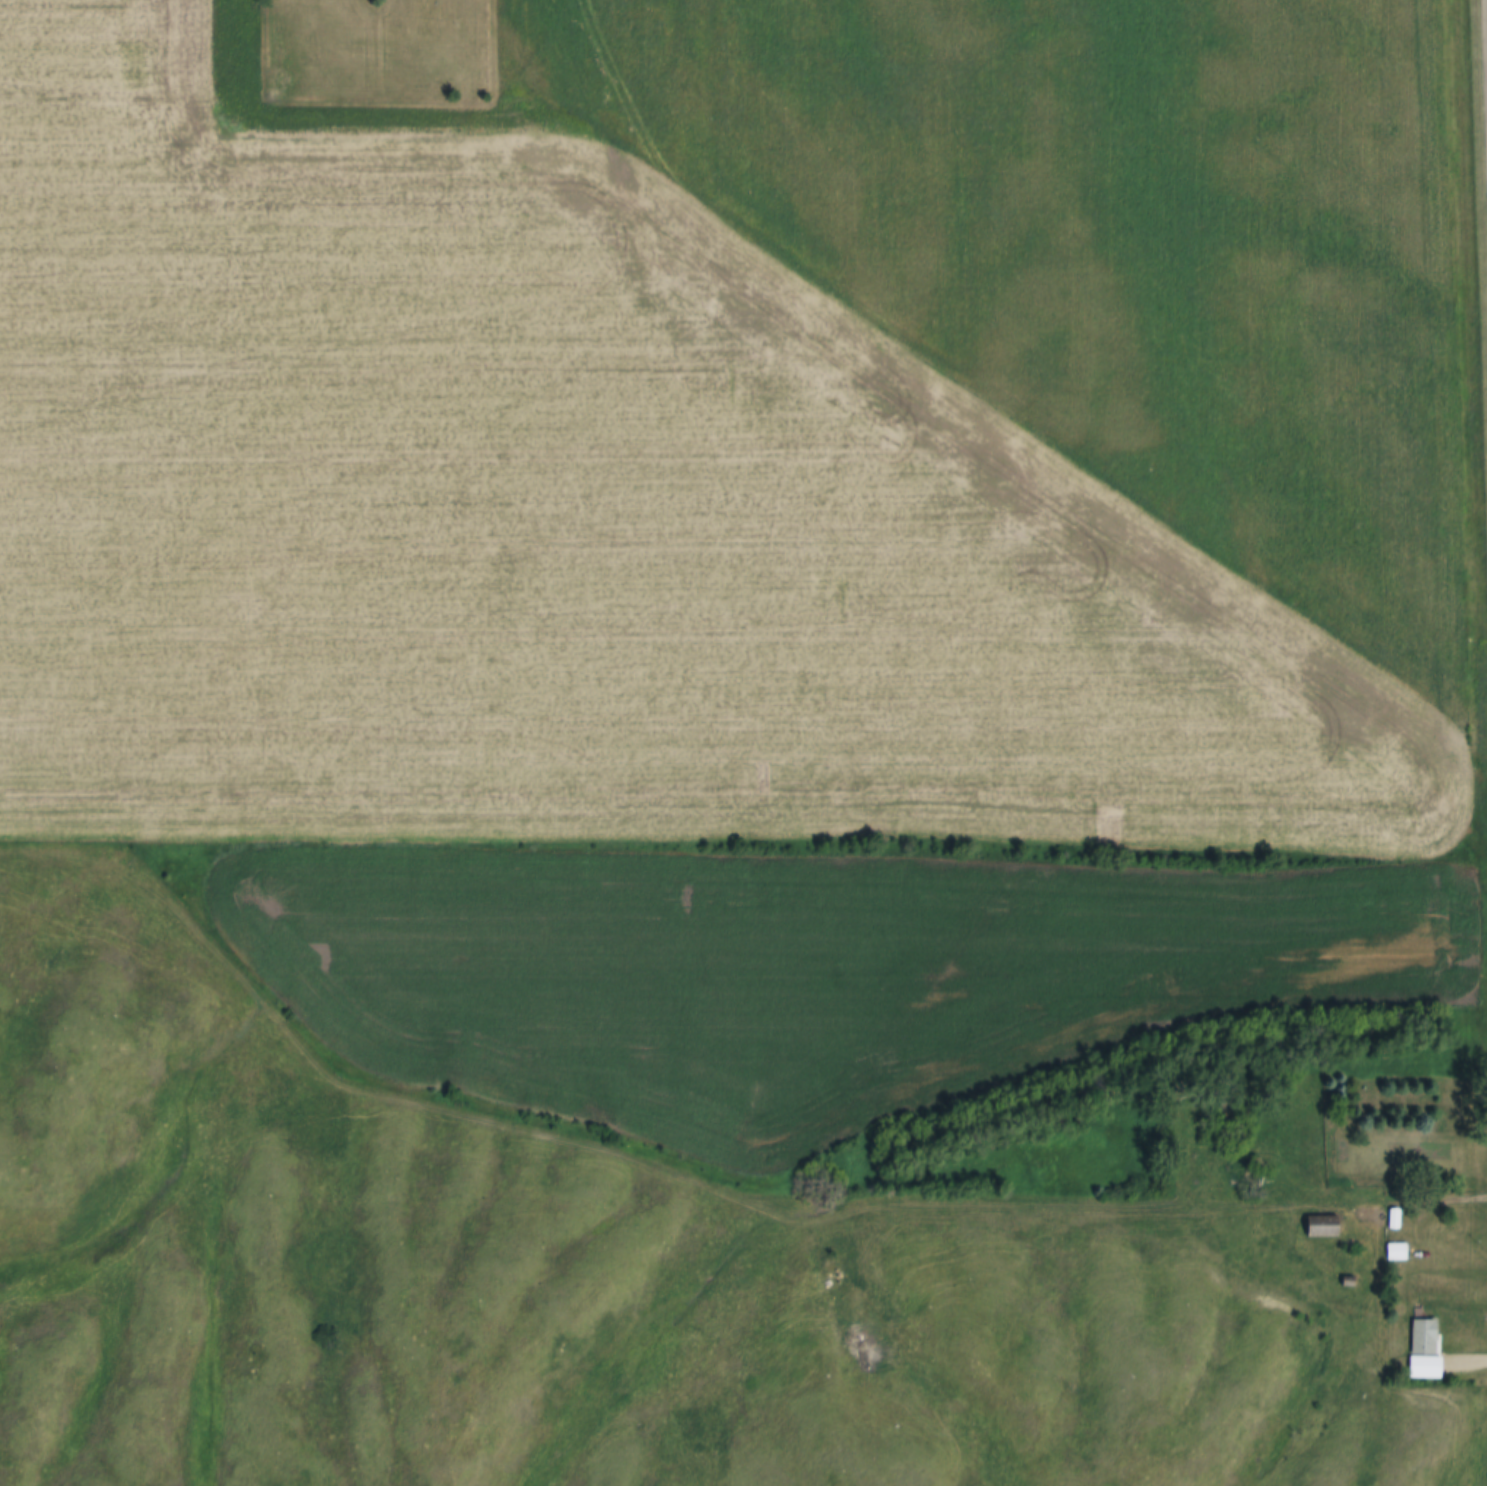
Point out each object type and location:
road: (934, 1211)
building: (1394, 1219)
building: (1323, 1227)
building: (1397, 1253)
building: (1350, 1282)
building: (1426, 1352)
road: (1468, 1363)

